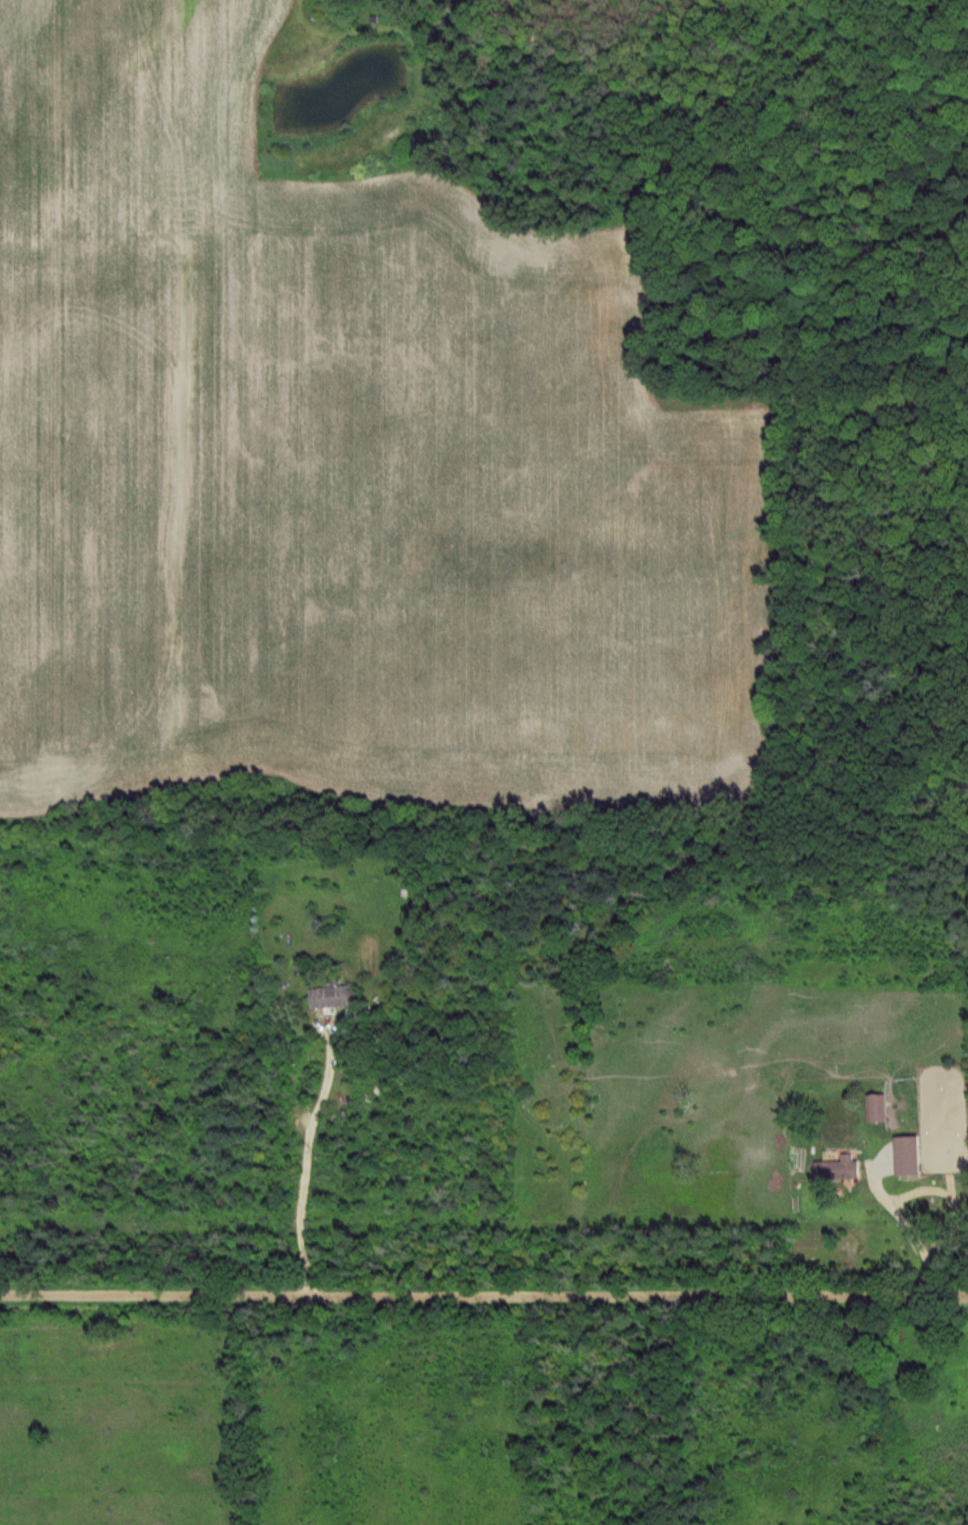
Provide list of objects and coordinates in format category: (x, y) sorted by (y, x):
building: (332, 997)
building: (909, 1156)
road: (304, 1166)
building: (840, 1170)
road: (909, 1231)
road: (484, 1297)

